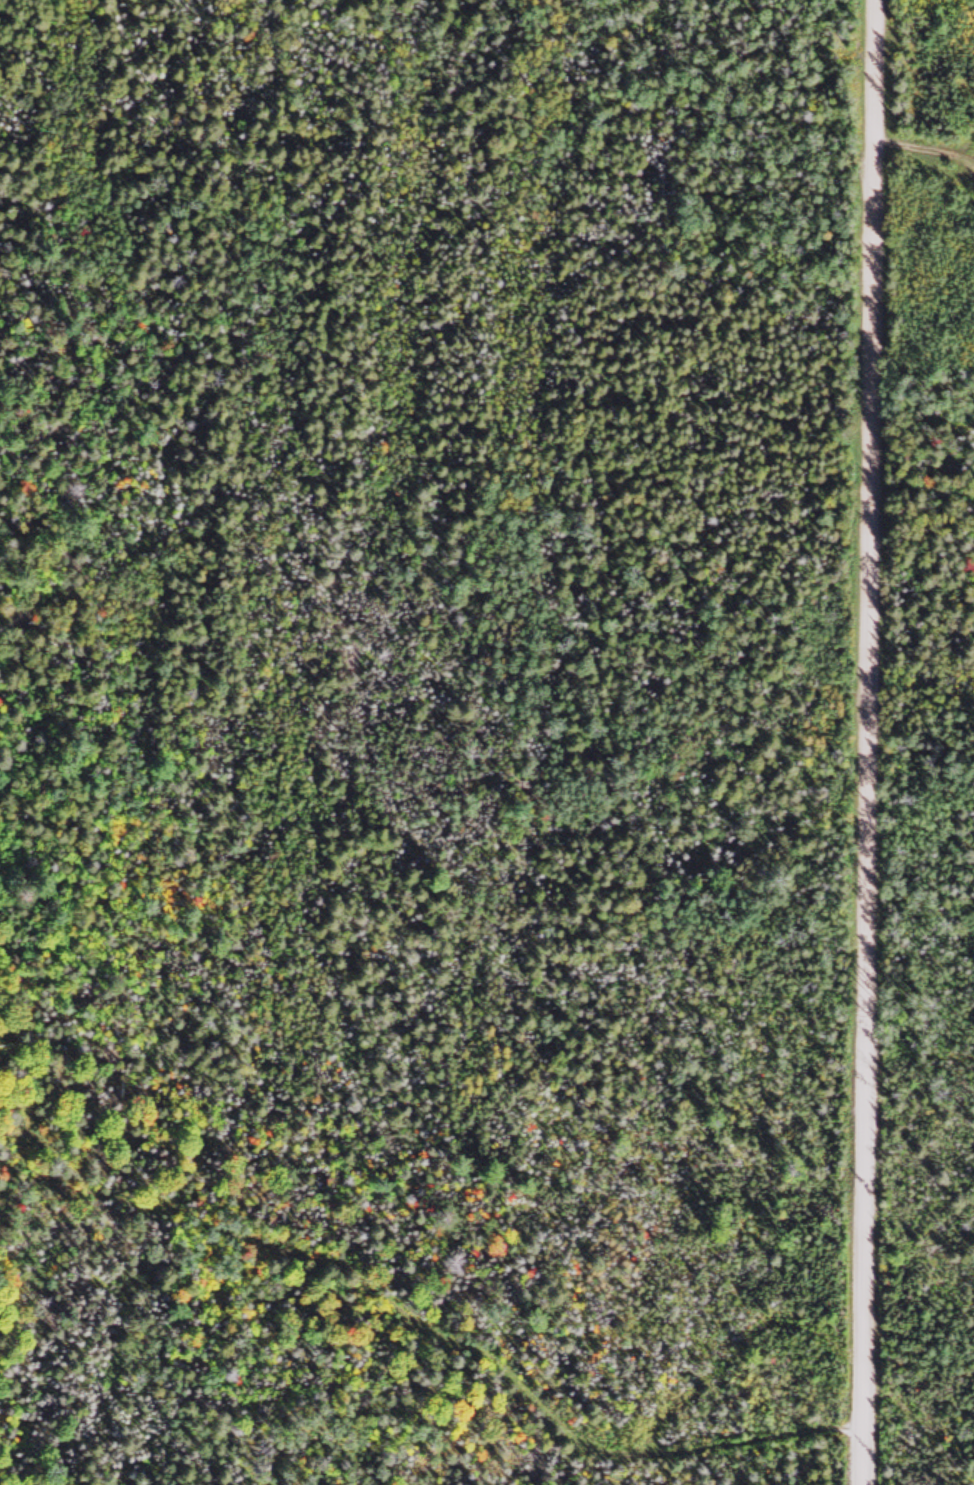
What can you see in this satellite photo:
road: (867, 742)

